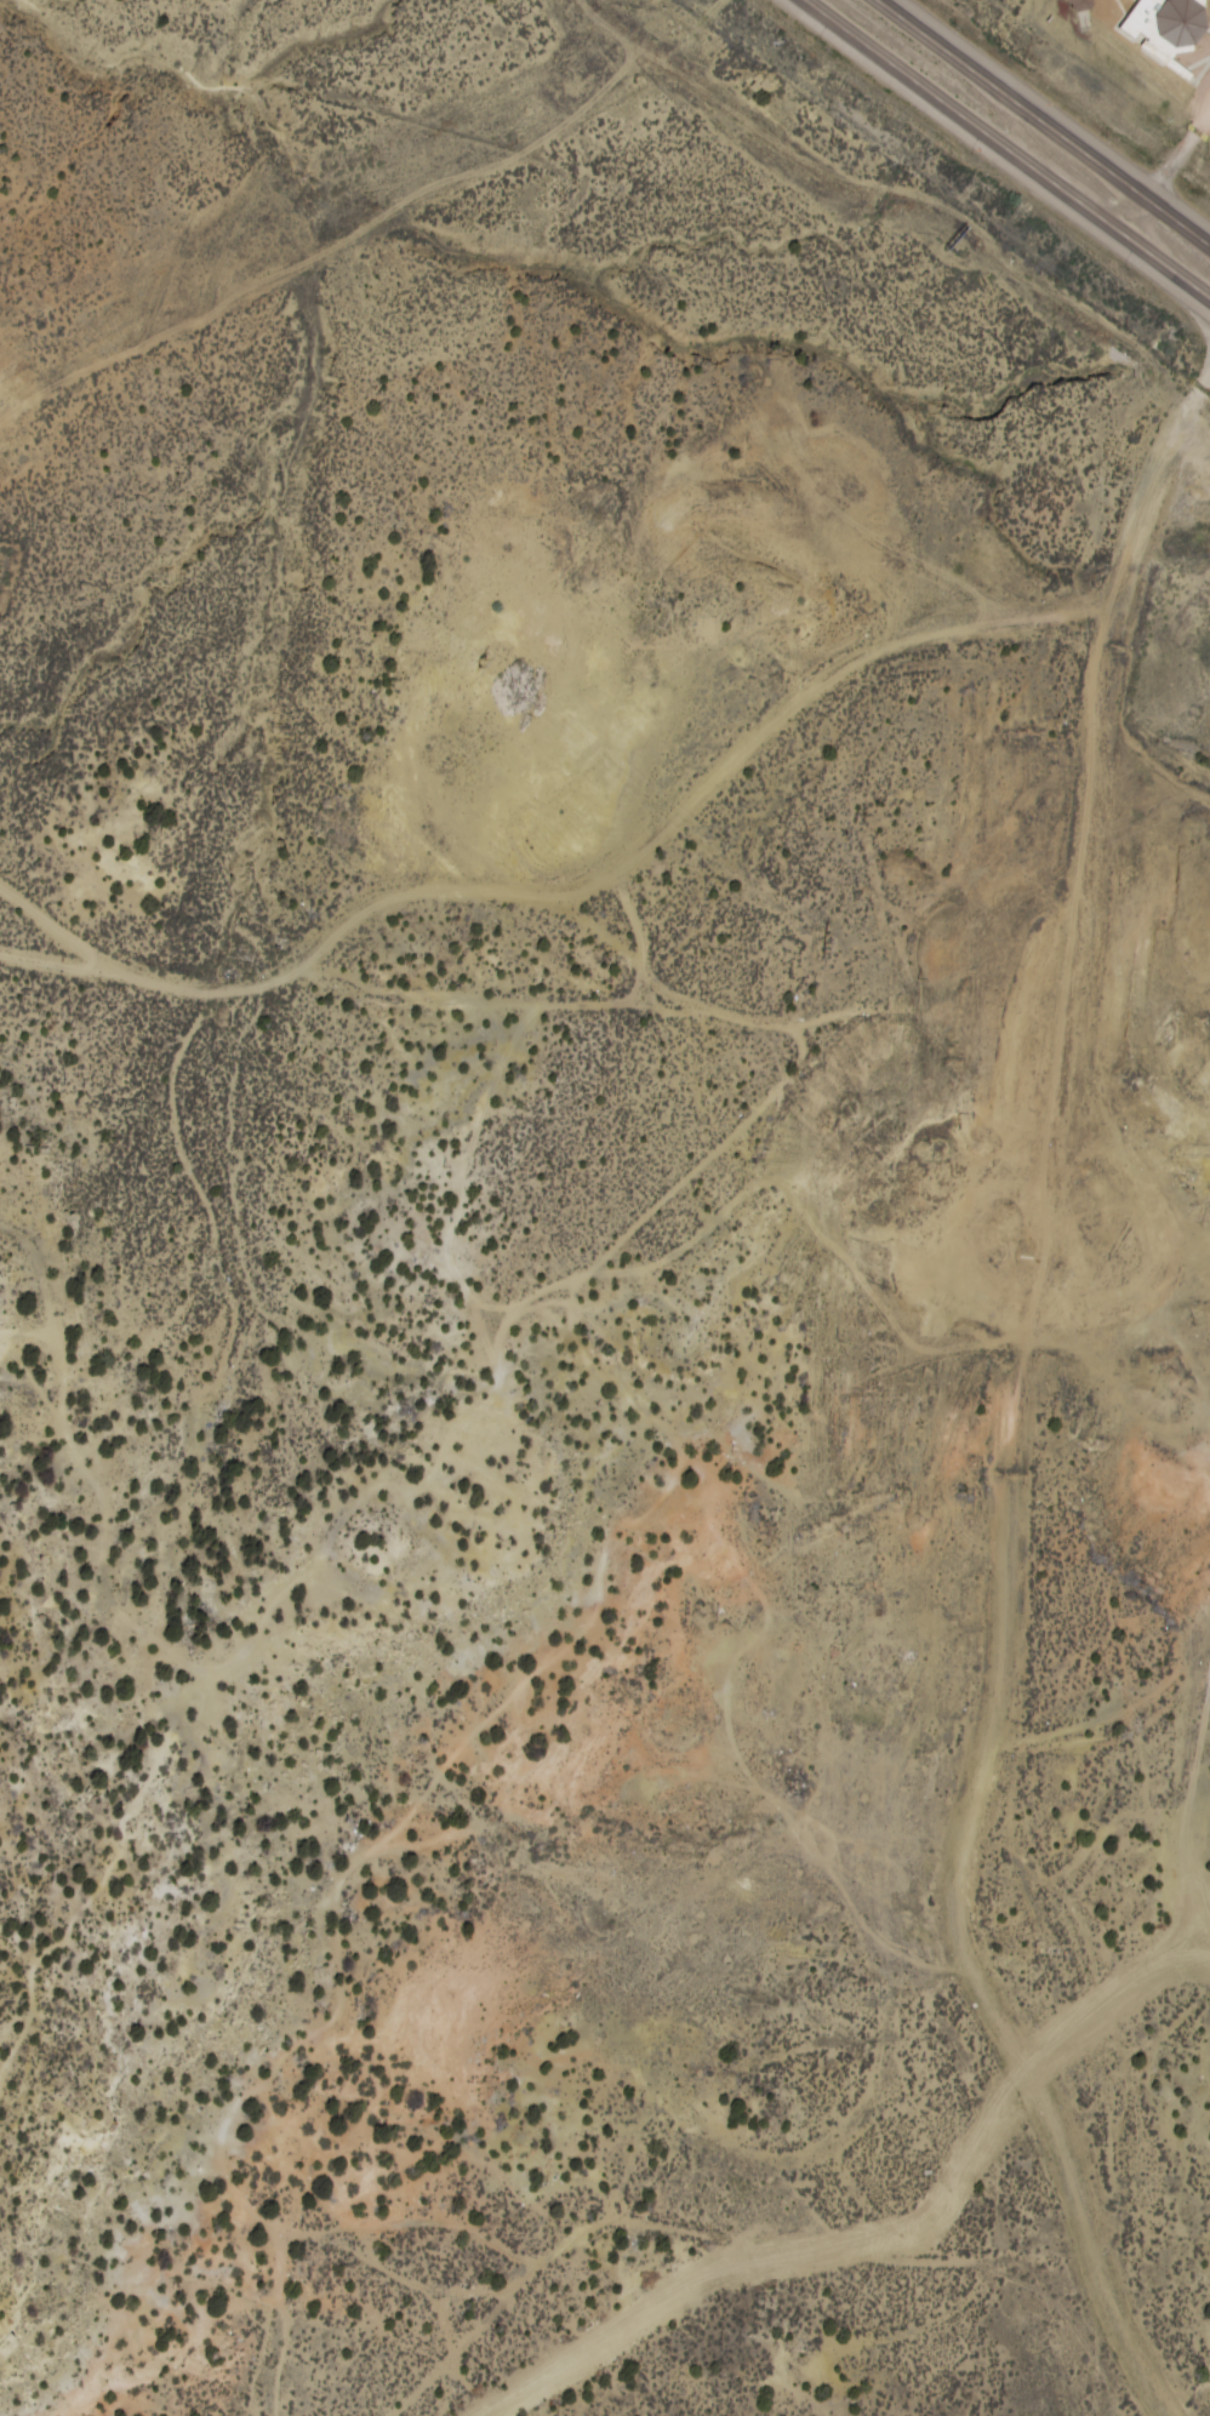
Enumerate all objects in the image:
building: (1186, 22)
road: (1041, 122)
road: (1006, 149)
power tower: (475, 662)
road: (811, 690)
road: (1095, 764)
power tower: (820, 946)
road: (281, 971)
road: (820, 1026)
road: (975, 1812)

